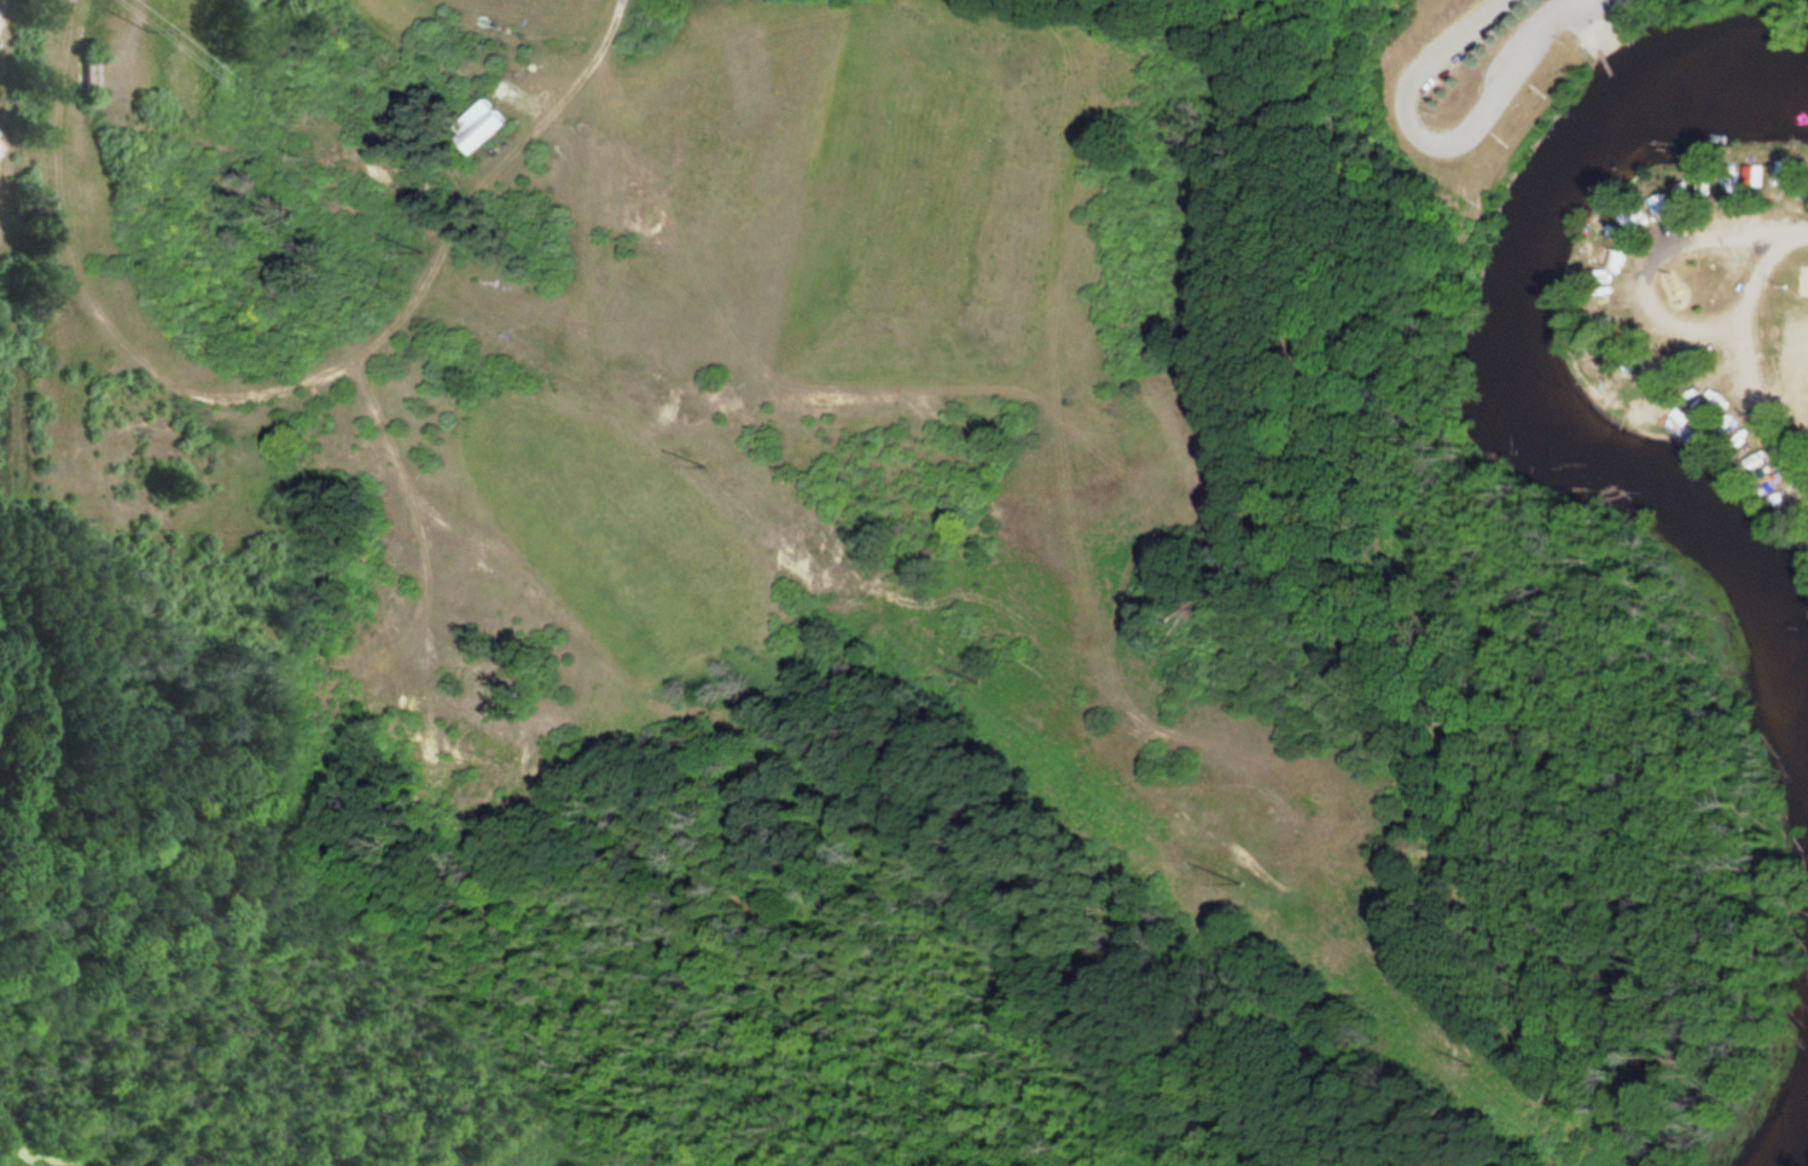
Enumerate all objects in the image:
road: (1597, 27)
parking lot: (1465, 33)
parking lot: (1522, 62)
building: (487, 126)
road: (1437, 143)
building: (1763, 176)
building: (1675, 190)
quarry: (0, 193)
road: (1802, 238)
park: (1803, 279)
road: (1643, 307)
river: (1512, 366)
park: (831, 603)
river: (1789, 1137)

